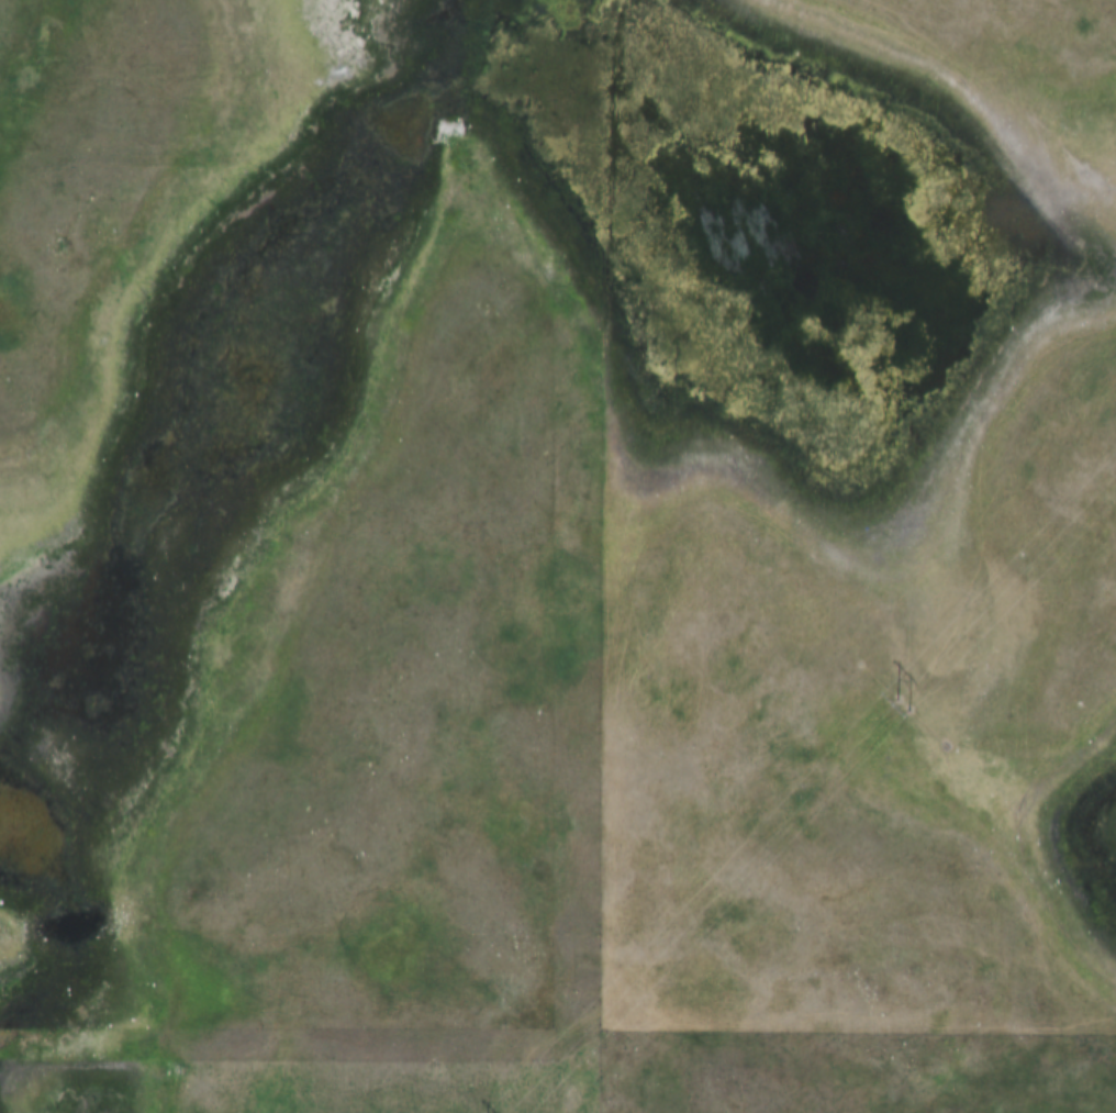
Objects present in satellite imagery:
power tower: (903, 703)

